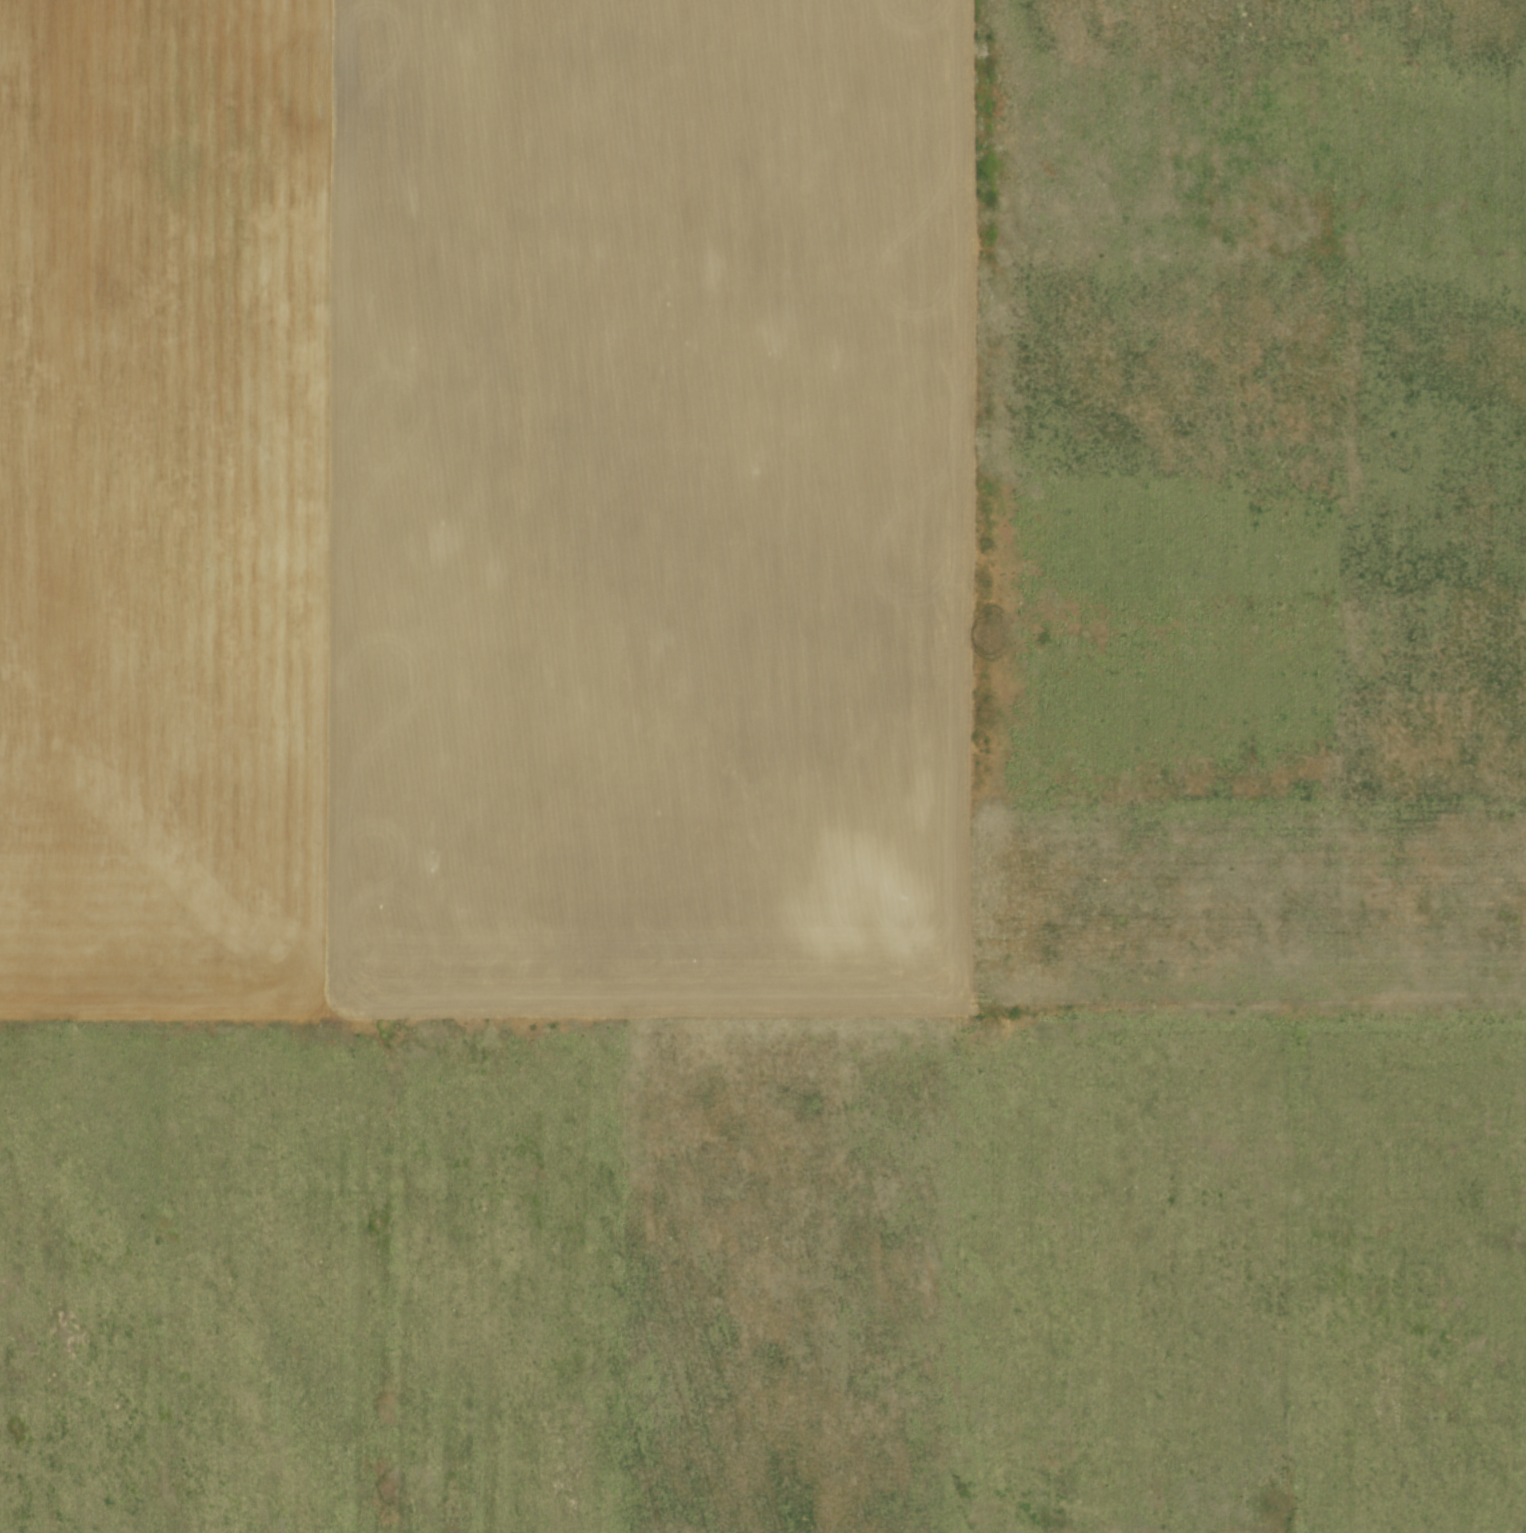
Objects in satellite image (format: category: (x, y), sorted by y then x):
crop: (763, 766)

